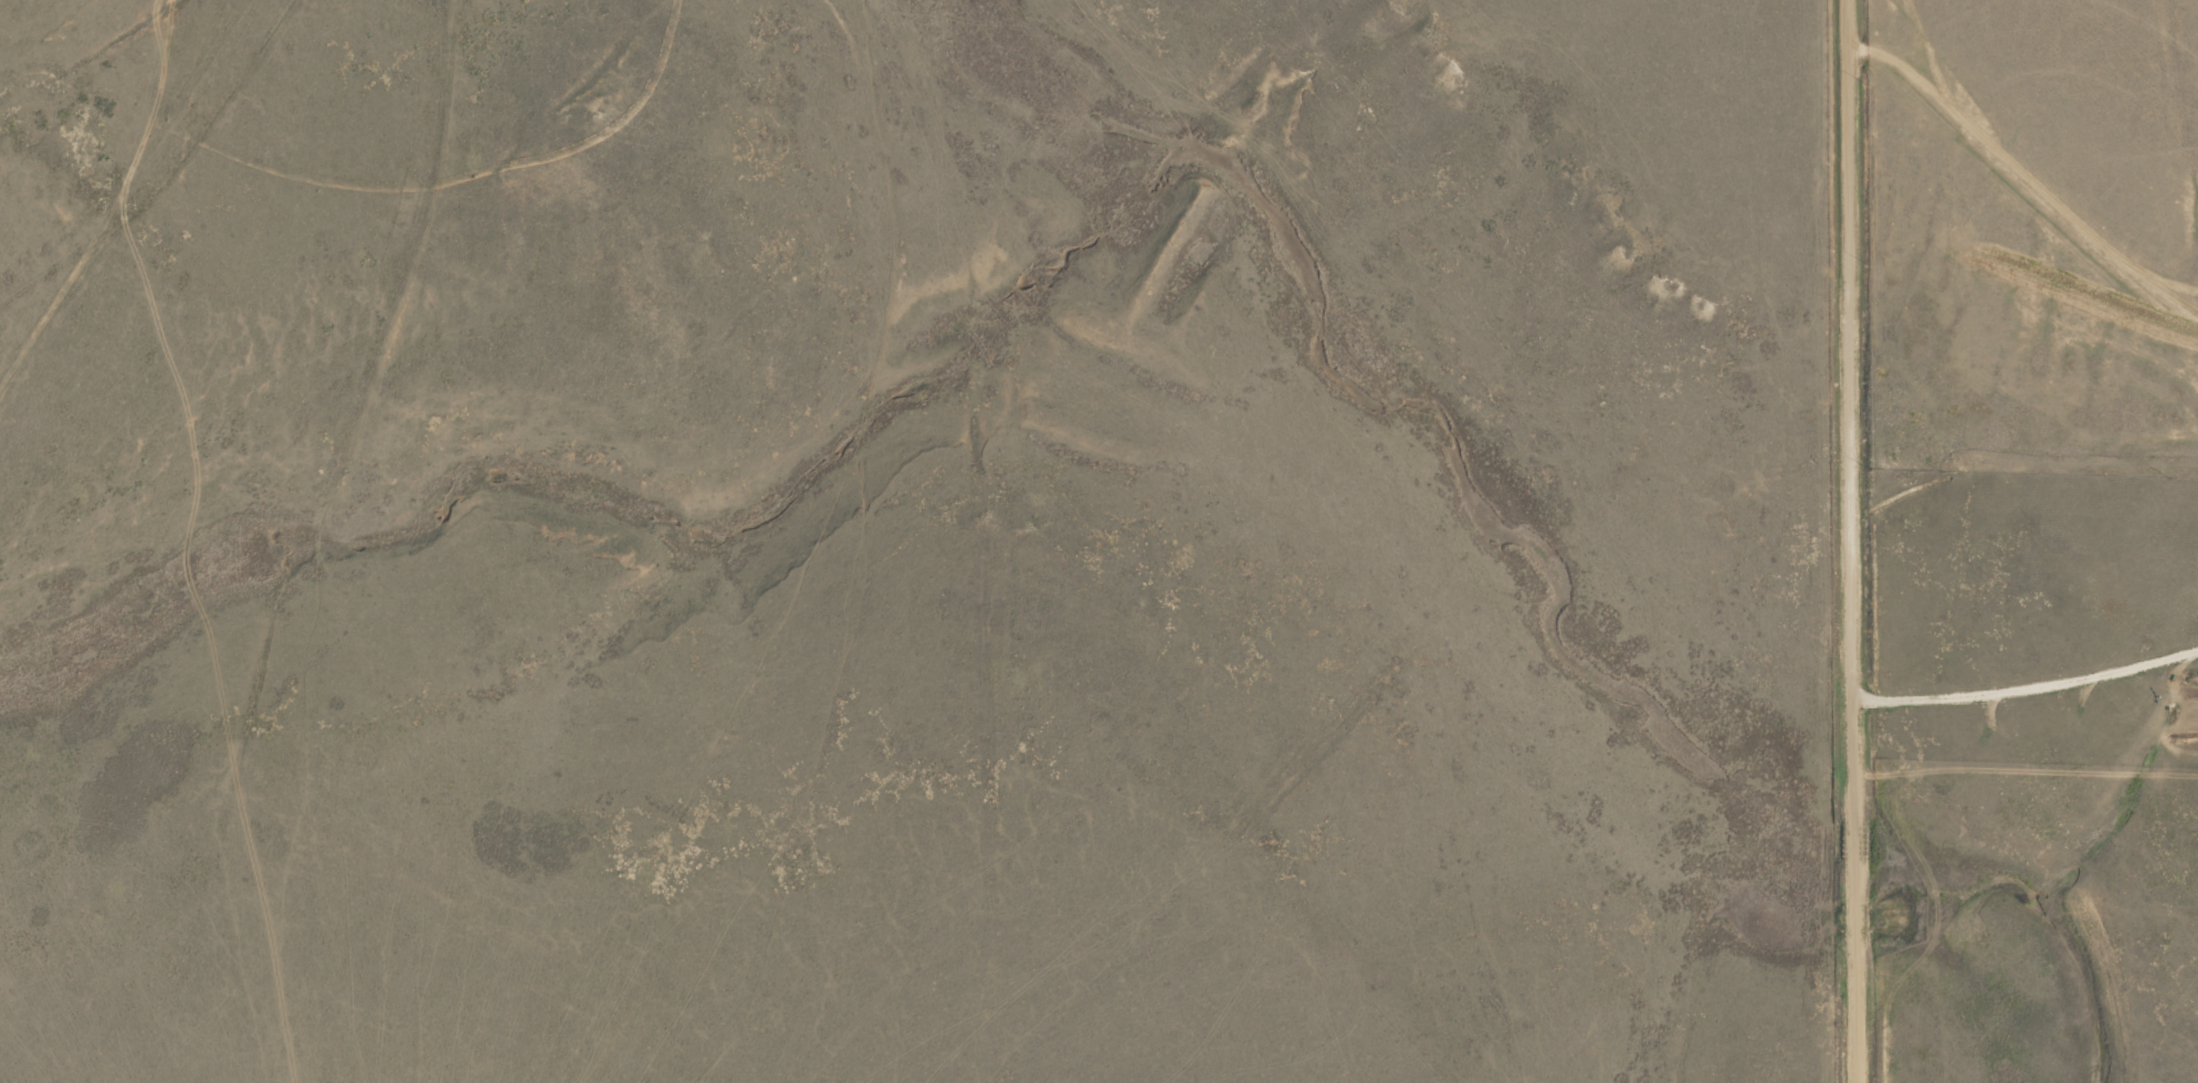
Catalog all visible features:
road: (2022, 125)
road: (1853, 541)

